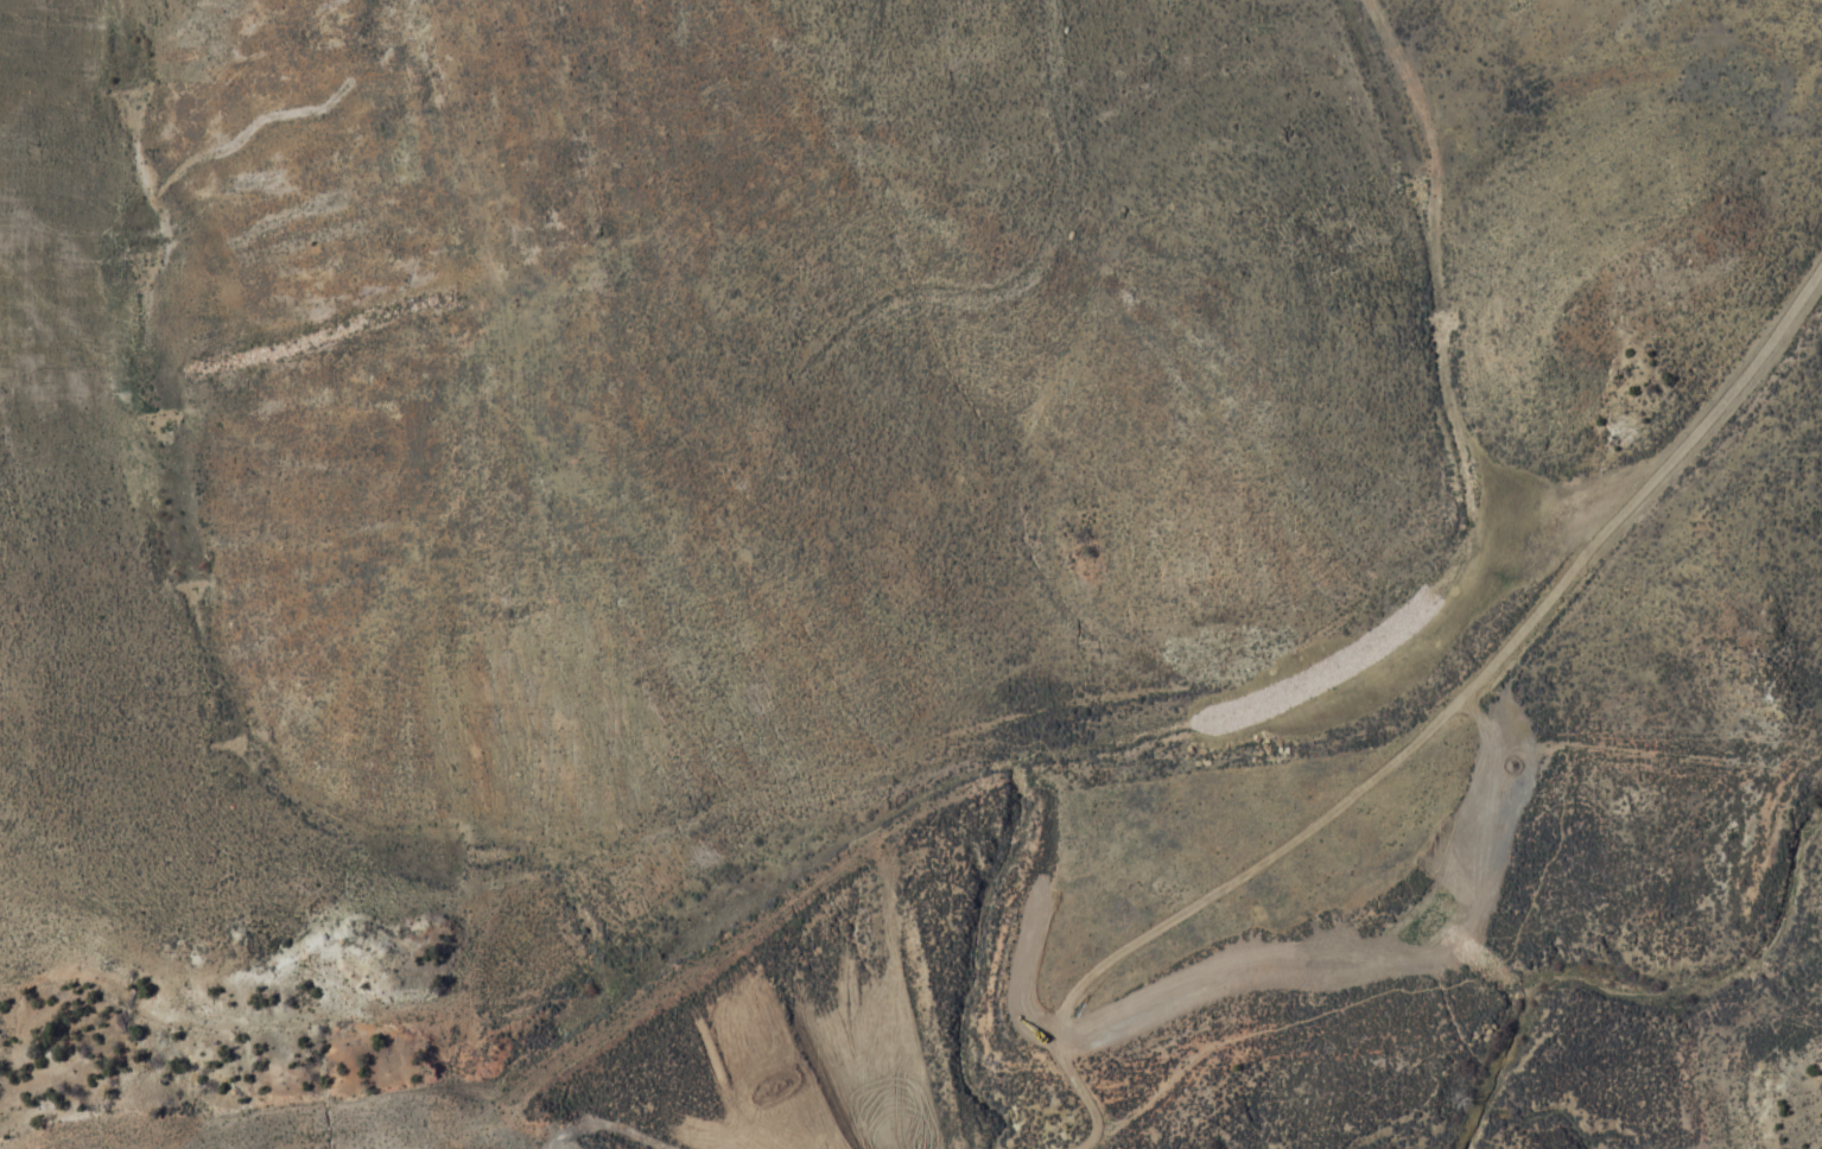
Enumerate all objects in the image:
railway: (337, 1143)

